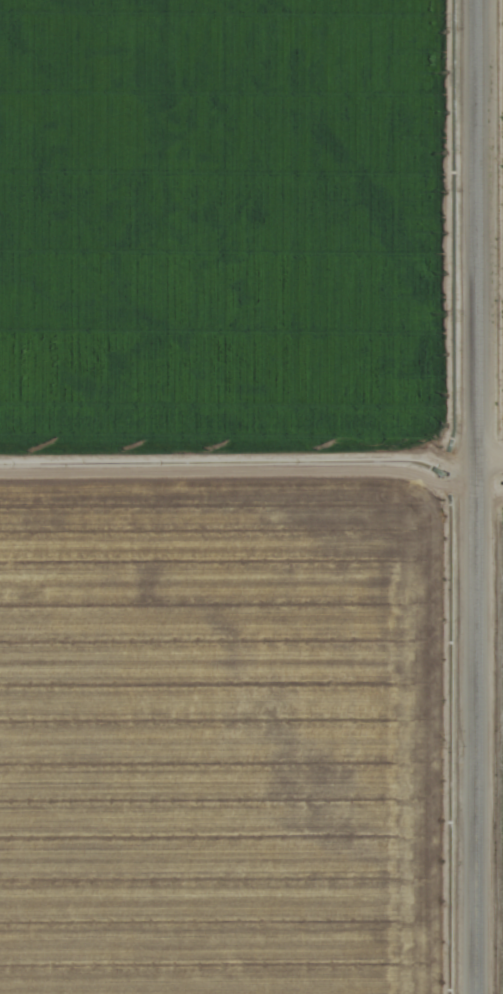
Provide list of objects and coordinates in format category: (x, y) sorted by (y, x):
road: (492, 443)
road: (481, 497)

